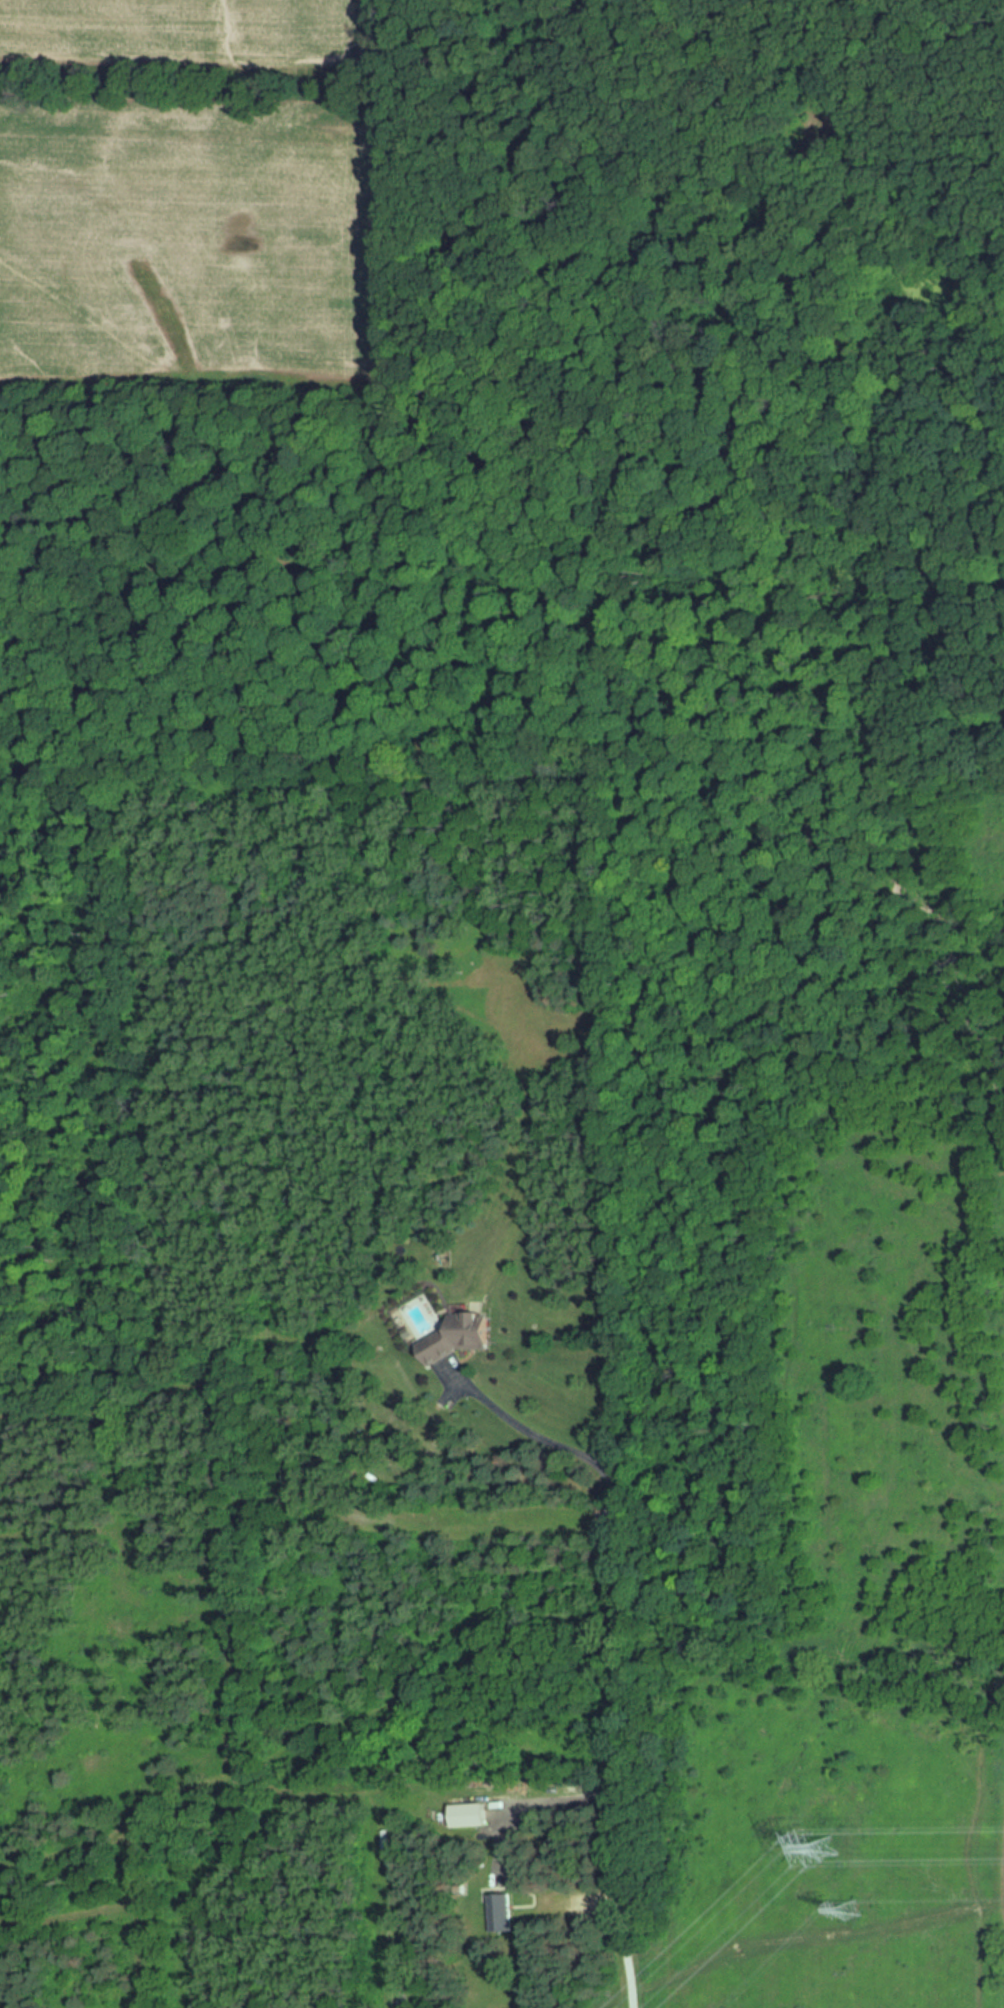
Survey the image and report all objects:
building: (457, 1338)
road: (614, 1646)
road: (553, 1810)
power tower: (812, 1849)
power tower: (851, 1911)
building: (502, 1913)

